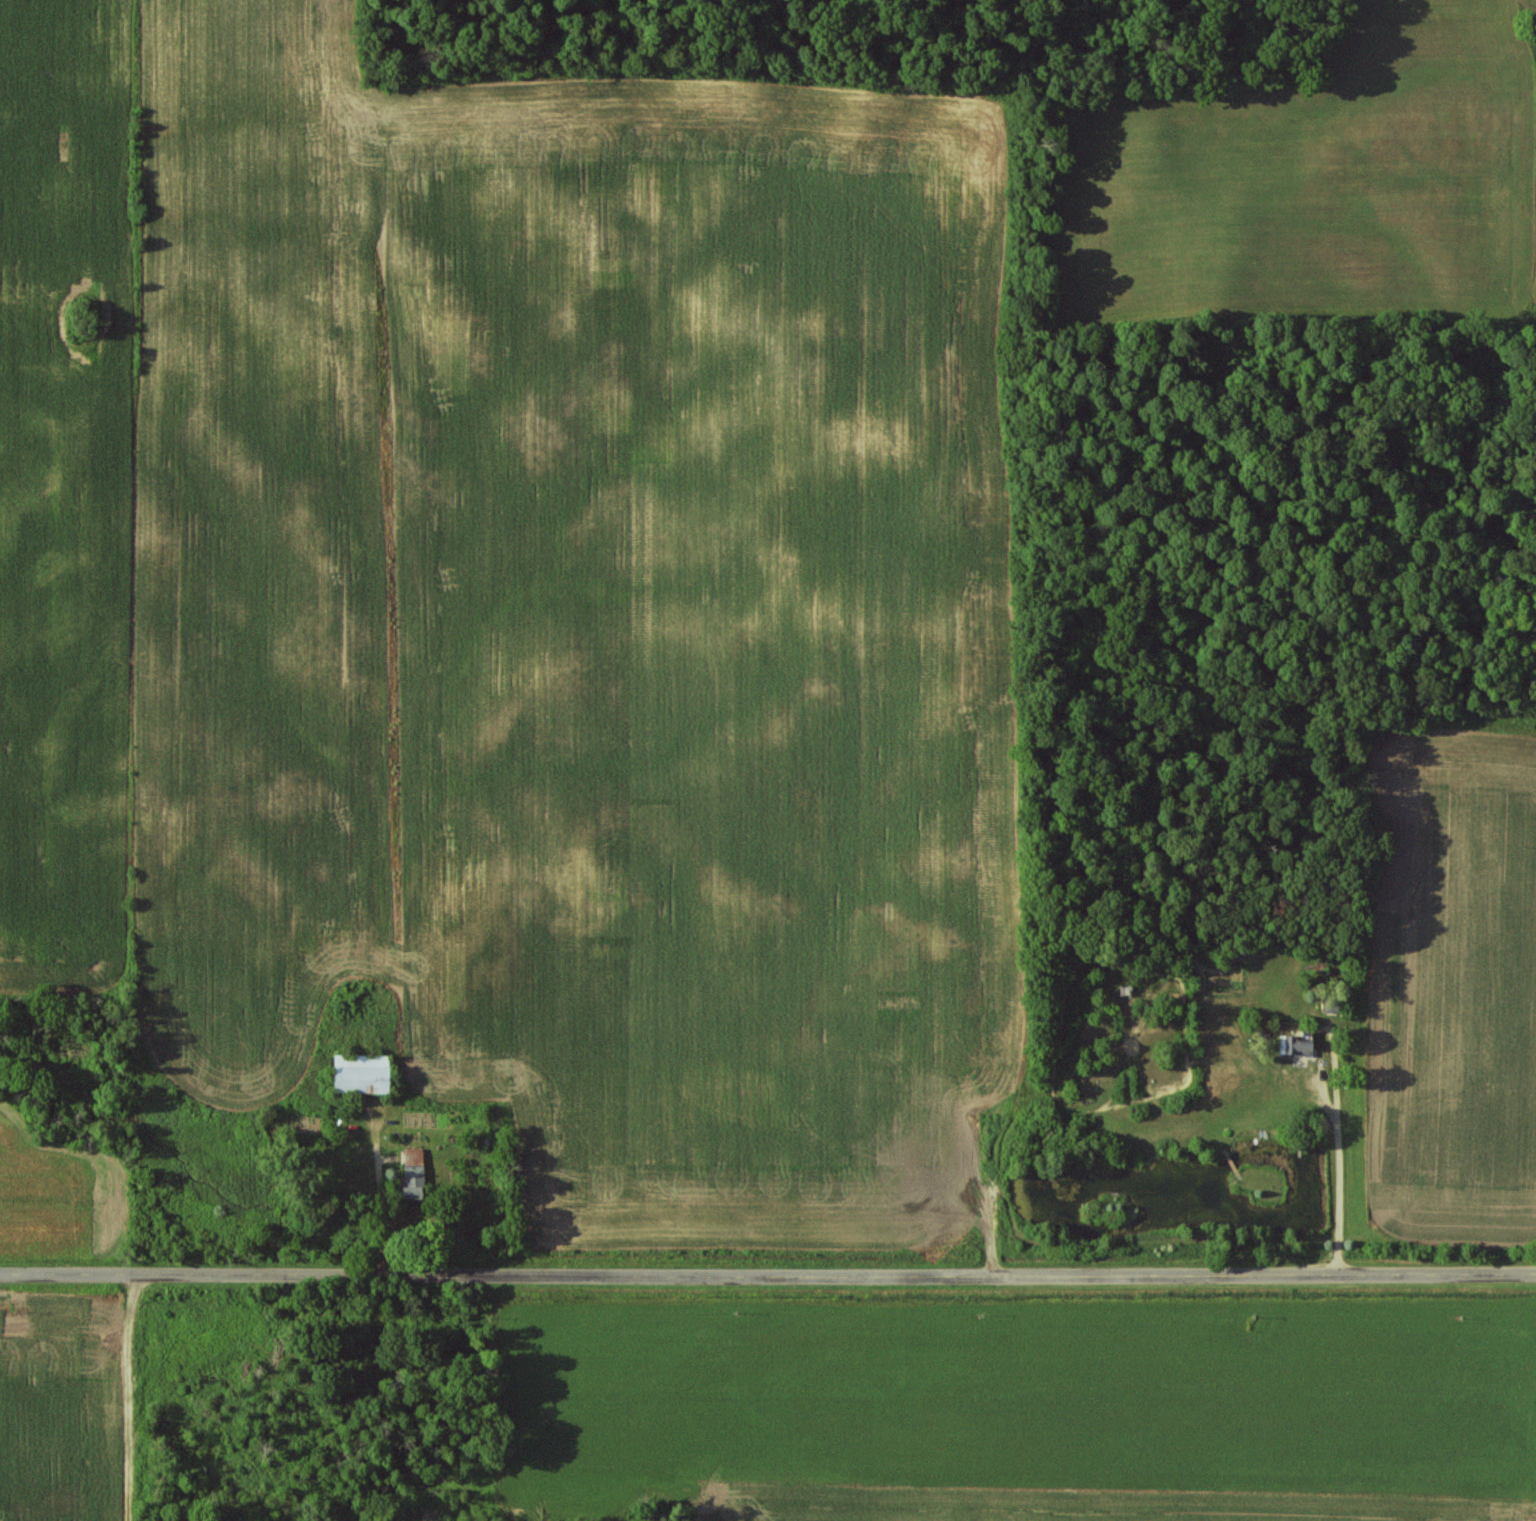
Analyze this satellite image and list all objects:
building: (1294, 1046)
building: (367, 1073)
building: (416, 1174)
road: (767, 1272)

